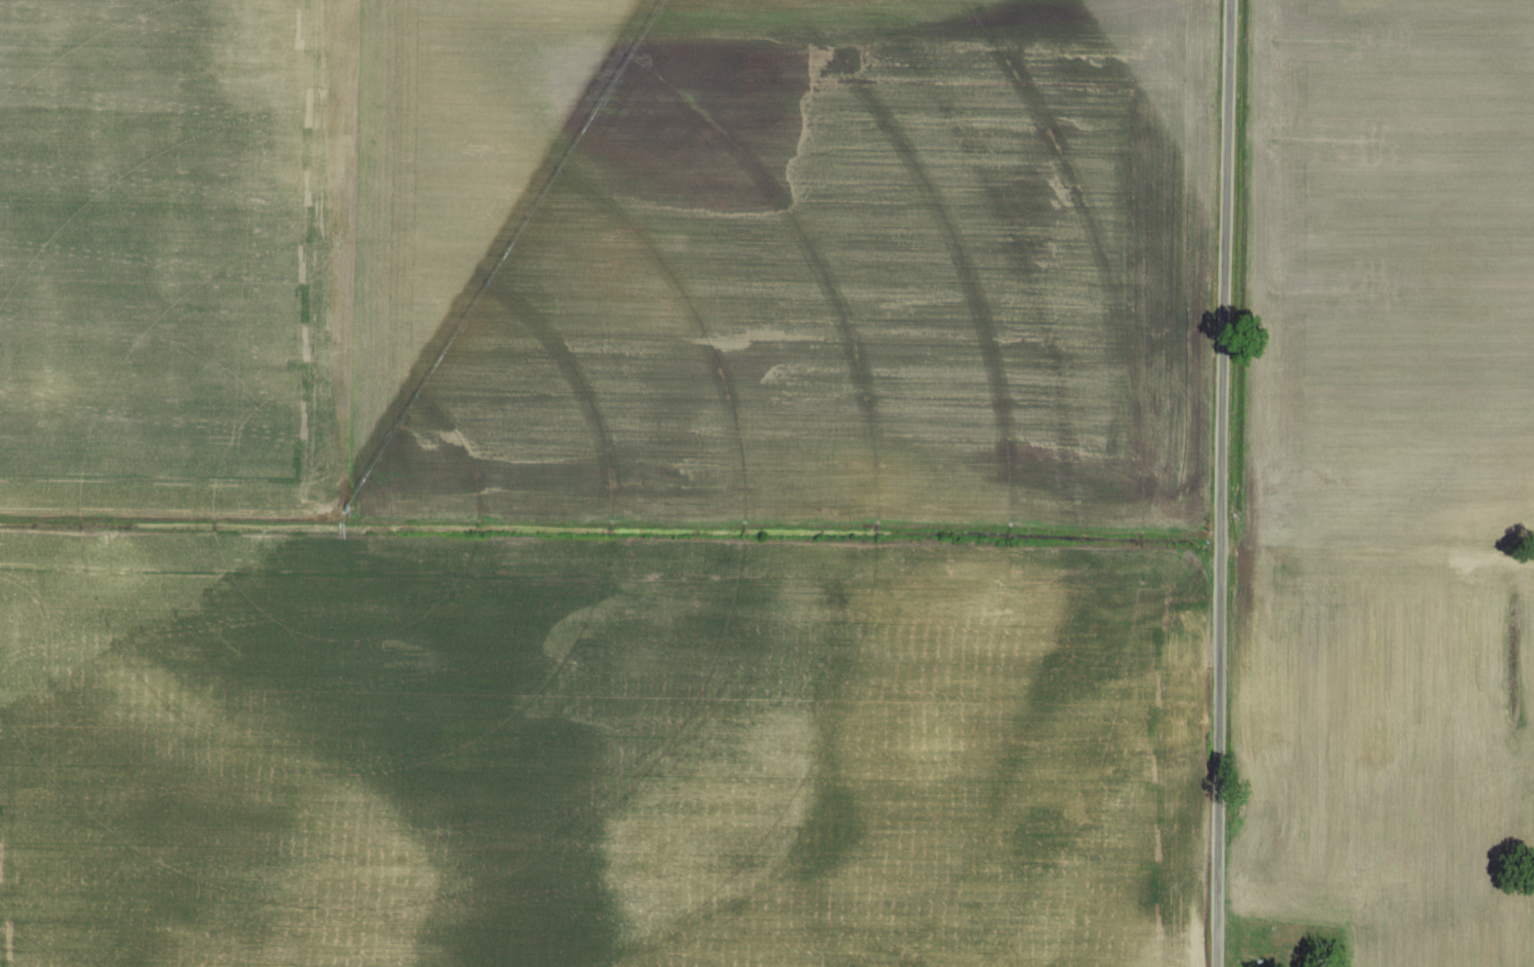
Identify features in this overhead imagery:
road: (1220, 483)
building: (1256, 957)

